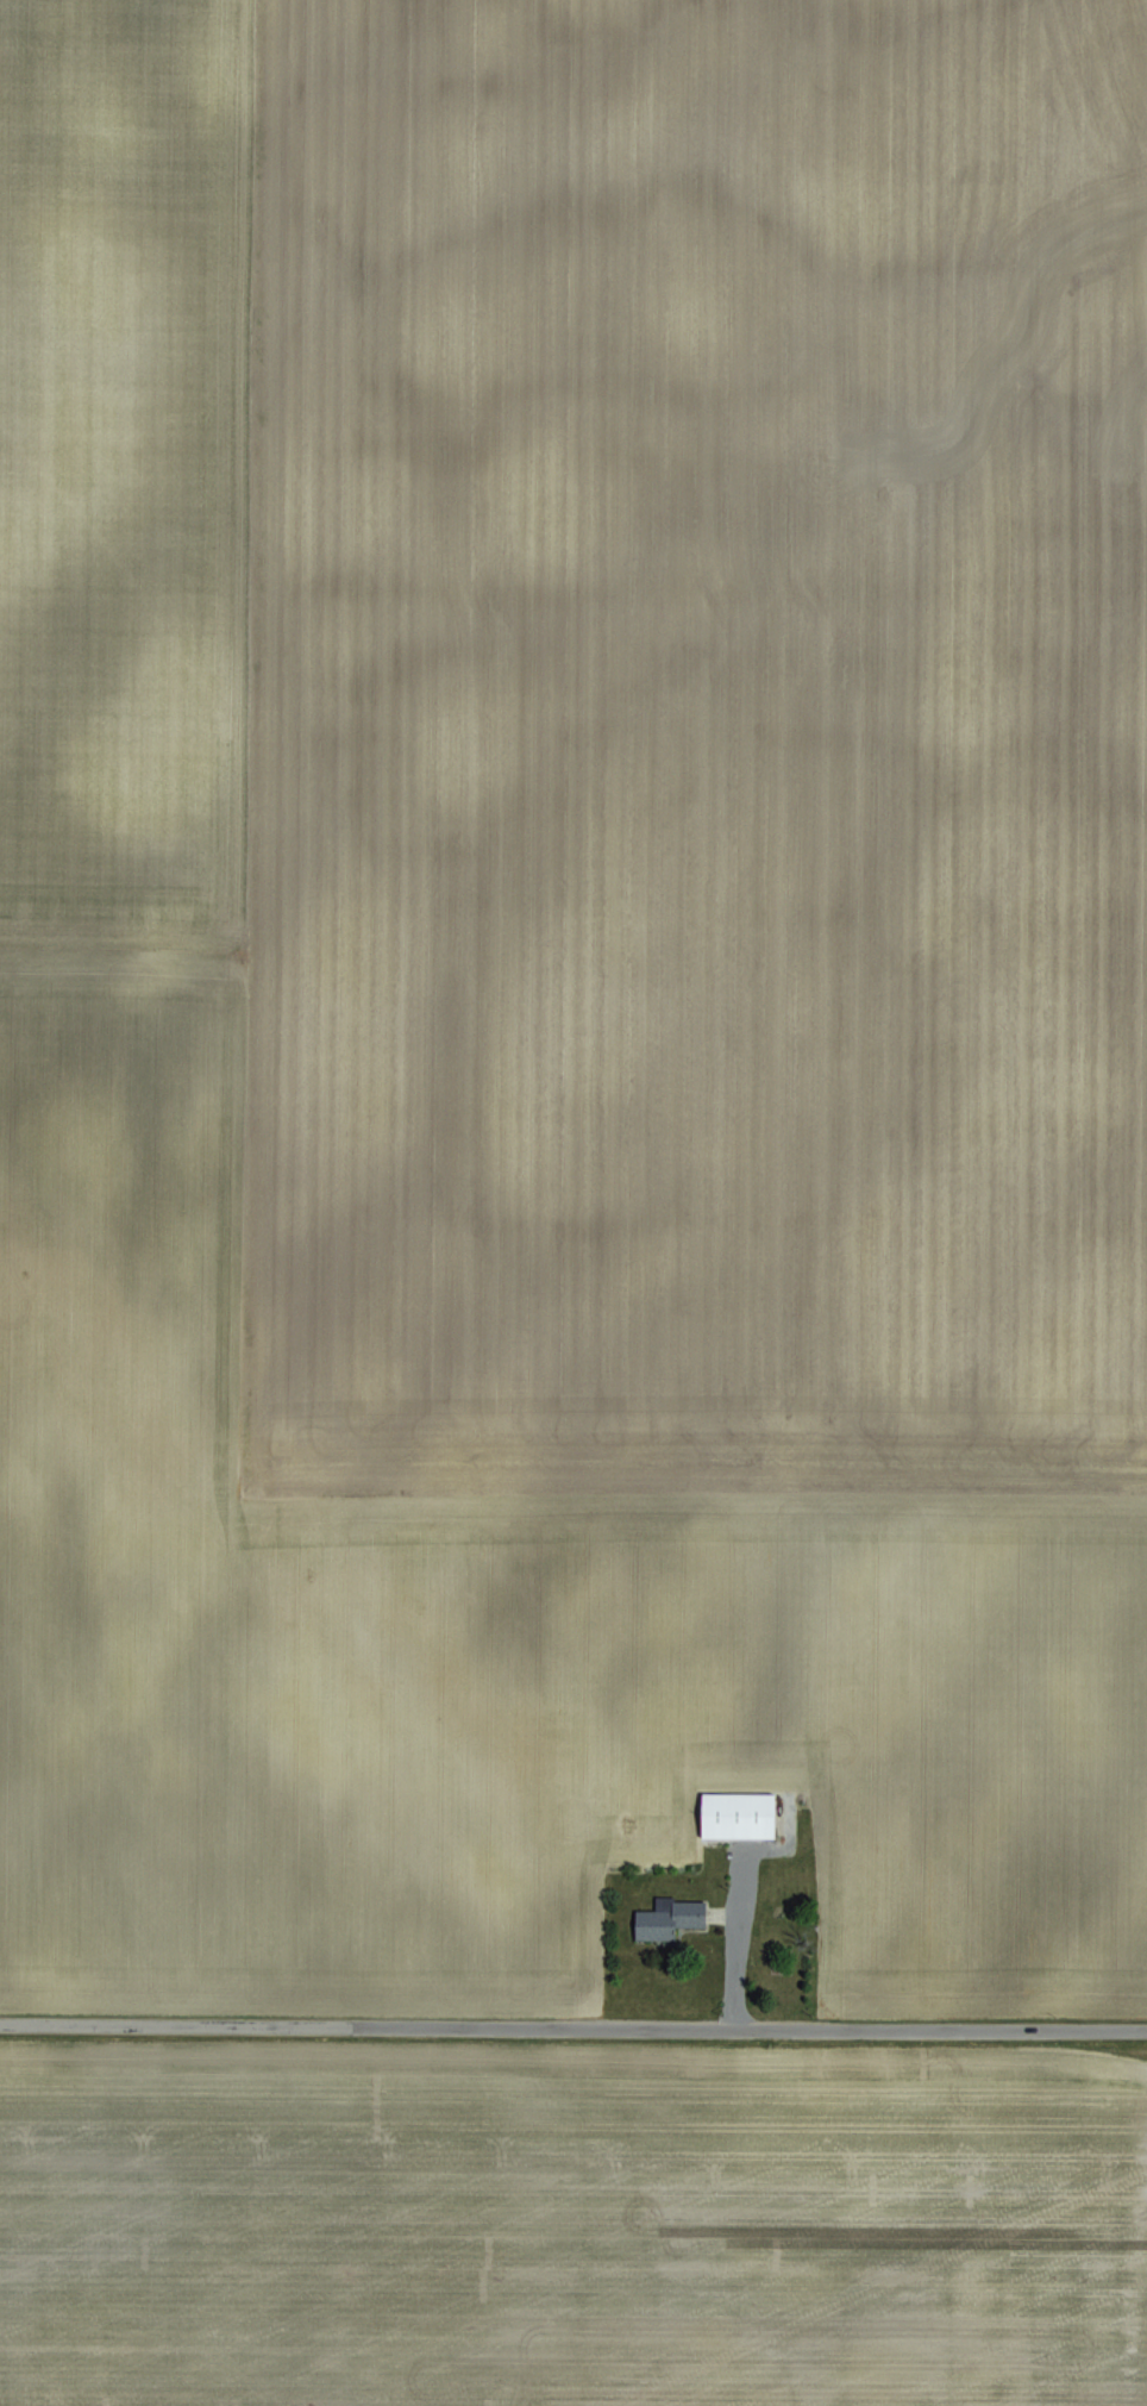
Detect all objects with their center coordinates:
road: (733, 1941)
road: (572, 2024)

